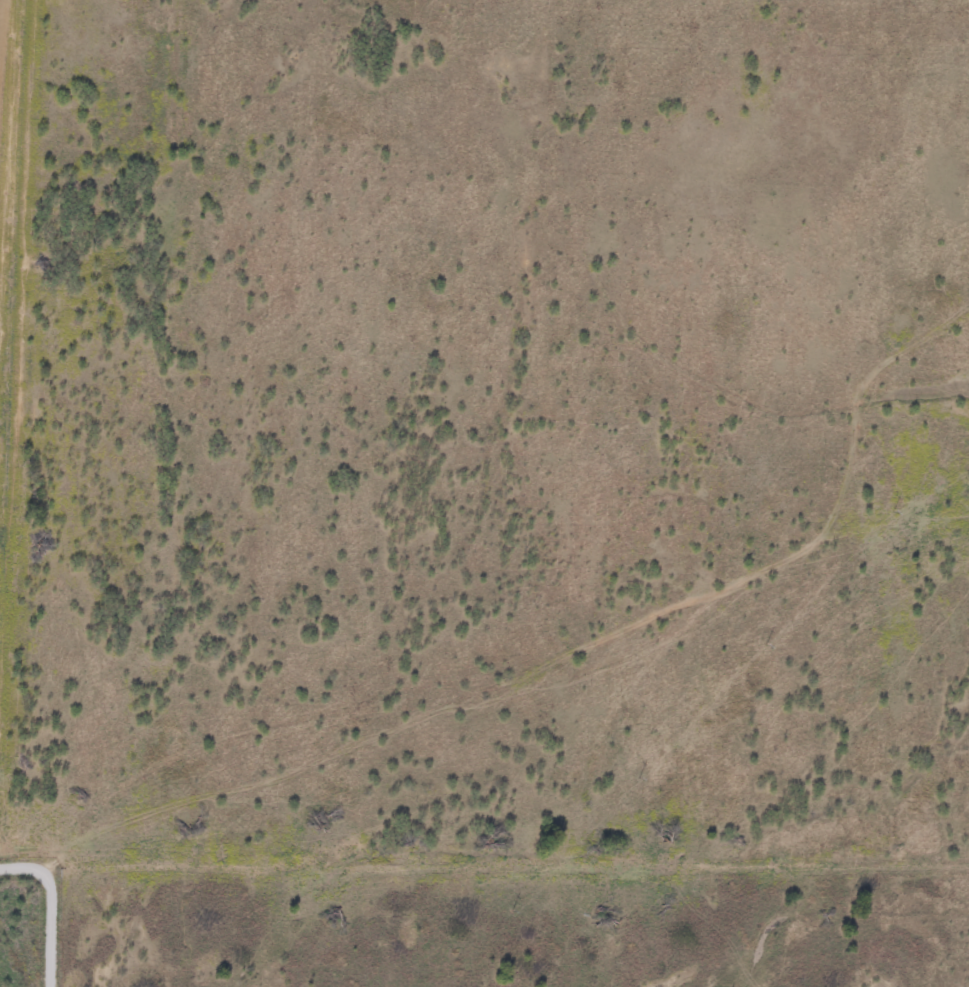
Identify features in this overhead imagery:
road: (54, 907)

